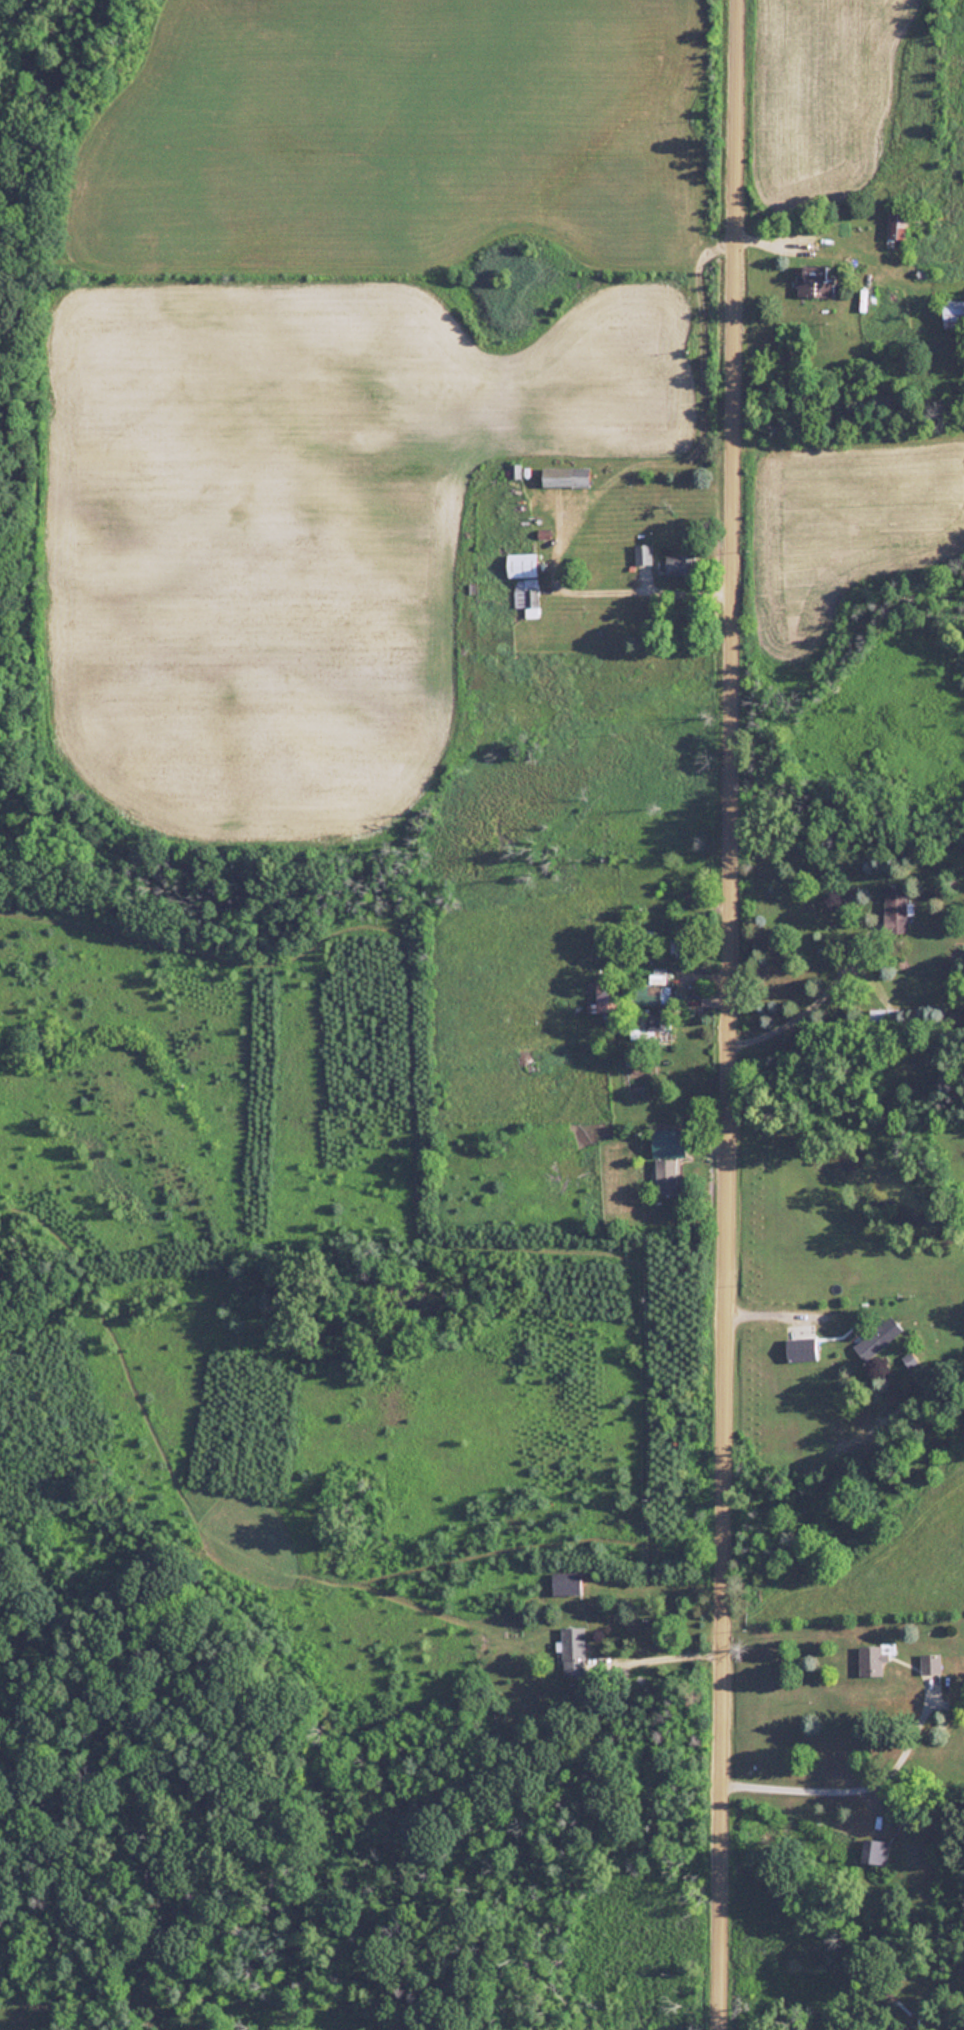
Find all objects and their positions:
building: (897, 223)
building: (813, 281)
building: (953, 314)
building: (514, 470)
building: (564, 477)
building: (642, 554)
building: (680, 565)
building: (524, 581)
building: (895, 907)
building: (654, 990)
building: (606, 996)
road: (729, 1014)
building: (888, 1017)
building: (657, 1019)
building: (657, 1139)
building: (665, 1172)
building: (871, 1340)
building: (800, 1349)
building: (908, 1359)
building: (566, 1582)
building: (573, 1650)
building: (872, 1658)
building: (930, 1662)
road: (855, 1778)
building: (875, 1851)

